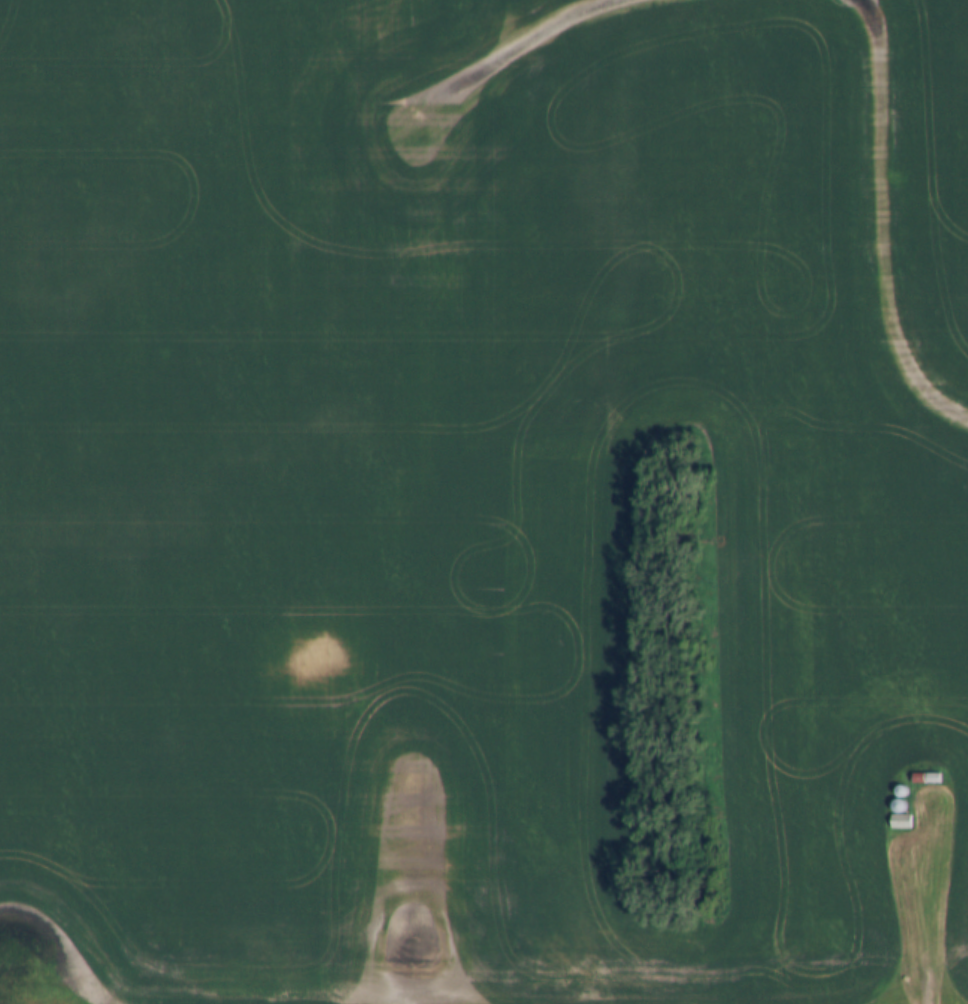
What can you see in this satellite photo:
road: (922, 755)
building: (927, 778)
building: (903, 792)
building: (901, 806)
building: (902, 822)
building: (825, 960)
road: (923, 983)

